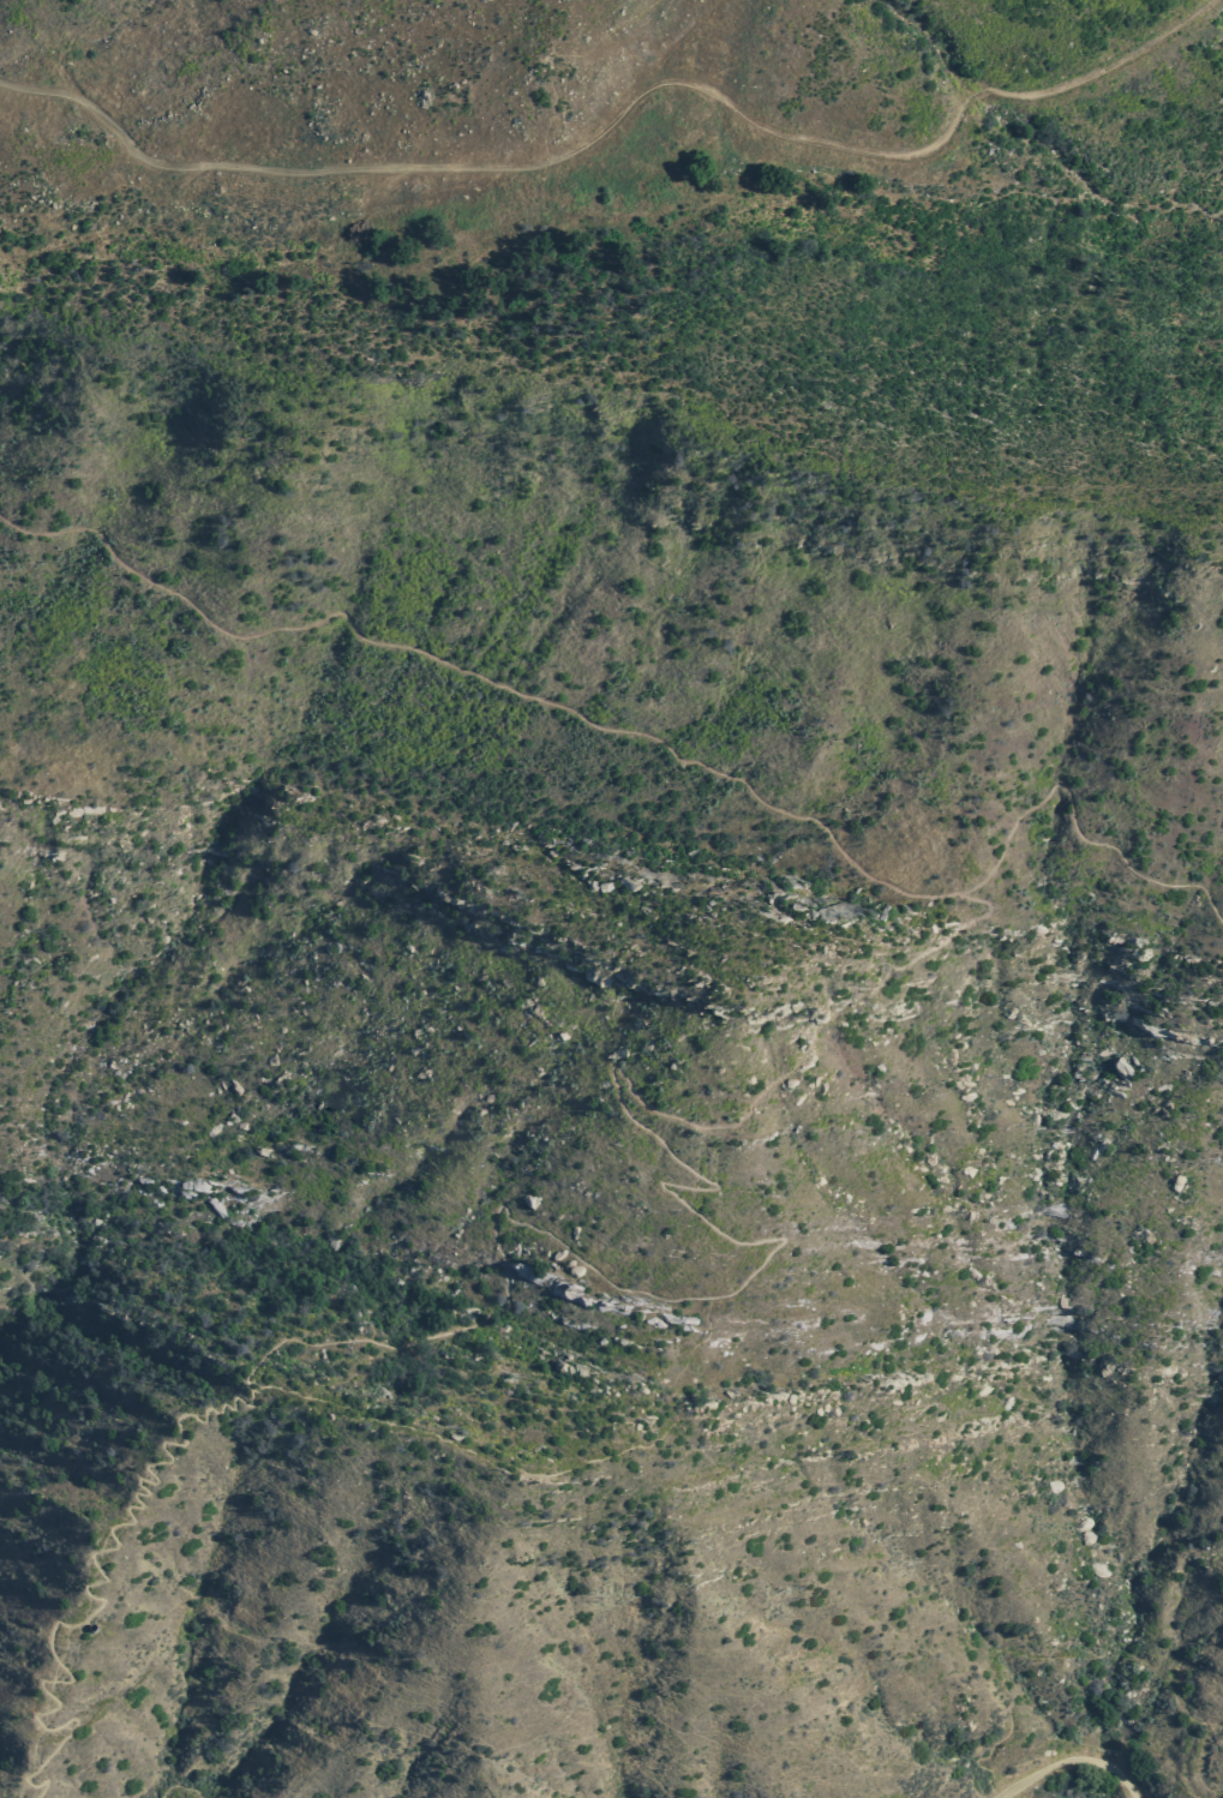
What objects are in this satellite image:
road: (616, 101)
road: (664, 741)
road: (497, 1223)
road: (1122, 1646)
road: (985, 1756)
road: (1072, 1762)
road: (181, 1786)

